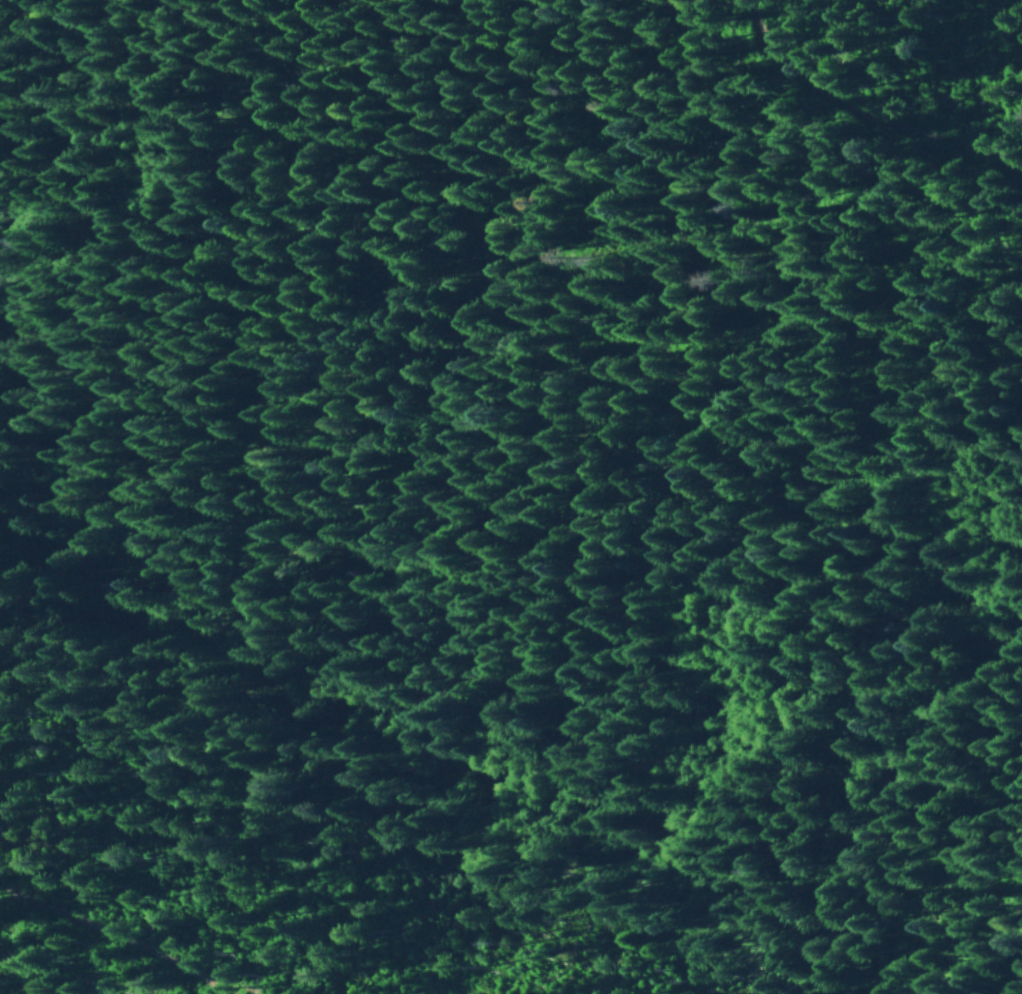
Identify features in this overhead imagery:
road: (865, 118)
road: (113, 935)

